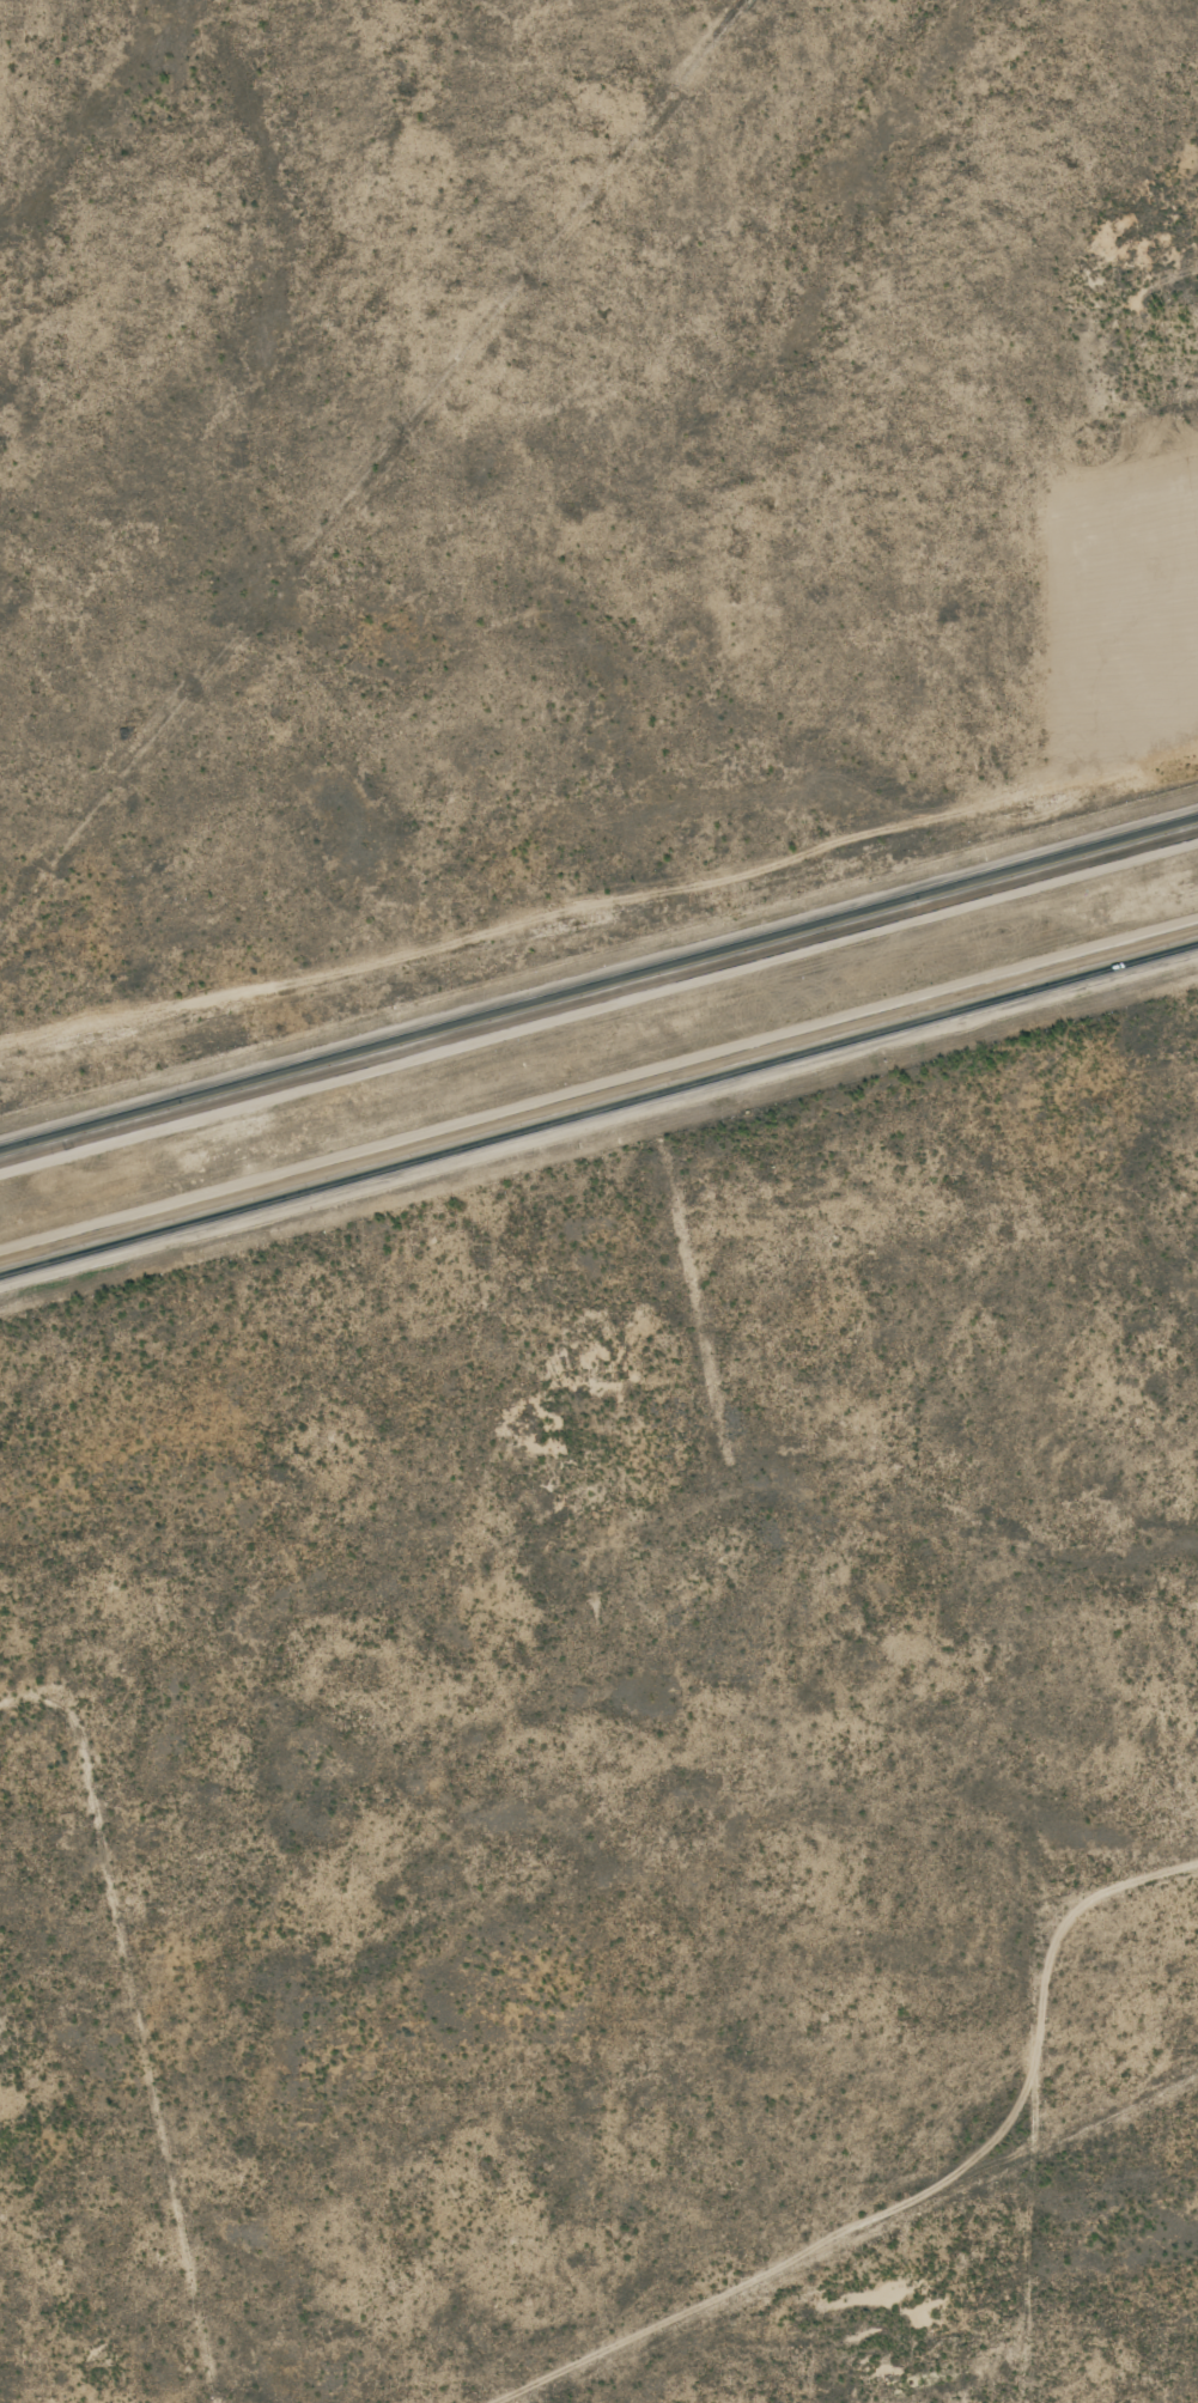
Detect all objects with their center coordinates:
road: (1133, 440)
road: (598, 994)
road: (598, 1100)
road: (87, 2073)
road: (999, 2106)

